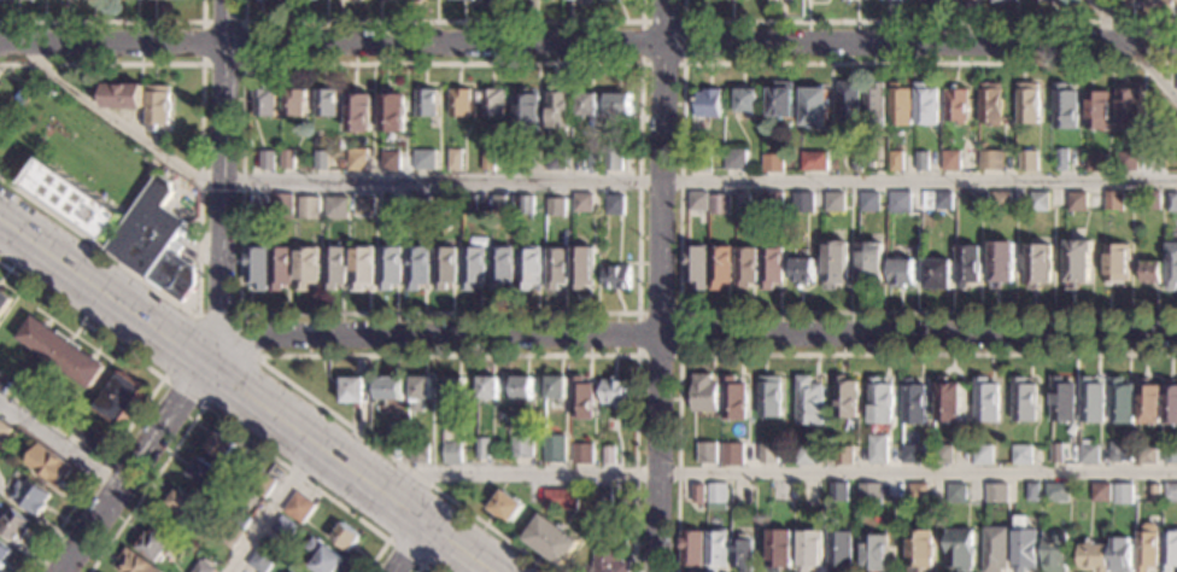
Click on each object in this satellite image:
building: (2, 0)
building: (259, 0)
building: (847, 0)
building: (924, 0)
building: (966, 0)
building: (1049, 0)
building: (418, 1)
building: (999, 1)
building: (1125, 7)
building: (1161, 7)
road: (919, 19)
road: (111, 21)
road: (441, 22)
road: (588, 42)
road: (1138, 45)
road: (683, 60)
road: (640, 62)
road: (242, 64)
building: (124, 95)
building: (781, 100)
building: (264, 101)
building: (427, 101)
building: (461, 101)
building: (748, 101)
building: (848, 101)
building: (874, 101)
building: (293, 103)
building: (327, 103)
building: (494, 103)
building: (708, 104)
building: (990, 104)
building: (1027, 104)
building: (587, 105)
building: (619, 105)
building: (900, 105)
building: (925, 105)
building: (955, 105)
building: (157, 106)
building: (814, 107)
building: (1065, 107)
building: (560, 109)
building: (1129, 110)
building: (359, 111)
building: (528, 111)
building: (1097, 111)
building: (393, 112)
building: (162, 142)
building: (357, 159)
building: (596, 159)
building: (736, 159)
building: (267, 160)
building: (288, 160)
building: (322, 160)
building: (391, 160)
building: (428, 160)
building: (457, 160)
building: (490, 160)
building: (526, 160)
building: (558, 160)
building: (989, 160)
building: (1126, 160)
building: (614, 162)
building: (814, 162)
building: (879, 162)
building: (896, 162)
building: (920, 162)
building: (950, 162)
building: (1027, 162)
building: (1061, 162)
building: (1095, 162)
building: (702, 163)
building: (773, 163)
building: (1079, 163)
building: (856, 164)
road: (218, 176)
road: (578, 181)
road: (680, 188)
building: (74, 199)
building: (1112, 200)
building: (1149, 200)
building: (699, 202)
building: (744, 202)
building: (835, 202)
building: (941, 202)
building: (1000, 202)
building: (1037, 202)
building: (263, 203)
building: (585, 203)
building: (768, 203)
building: (800, 203)
building: (869, 203)
building: (898, 203)
building: (977, 203)
building: (1076, 203)
building: (1126, 203)
building: (1171, 203)
building: (445, 204)
building: (473, 204)
building: (364, 205)
building: (420, 205)
building: (500, 205)
building: (528, 205)
building: (616, 205)
building: (720, 205)
building: (282, 206)
building: (309, 208)
building: (558, 208)
building: (338, 209)
building: (394, 209)
road: (199, 210)
building: (154, 241)
building: (836, 263)
building: (1077, 263)
building: (1115, 263)
building: (869, 264)
building: (1000, 264)
building: (966, 265)
building: (1037, 265)
building: (257, 267)
building: (282, 267)
building: (336, 267)
building: (392, 267)
building: (447, 267)
building: (475, 267)
building: (503, 267)
building: (584, 267)
building: (696, 267)
building: (721, 267)
building: (772, 267)
building: (1170, 267)
building: (309, 268)
building: (364, 268)
building: (420, 268)
building: (531, 268)
building: (558, 268)
building: (746, 268)
building: (803, 272)
building: (1150, 272)
building: (900, 273)
building: (936, 274)
building: (617, 278)
road: (663, 286)
building: (5, 302)
road: (221, 315)
road: (690, 335)
building: (62, 351)
road: (819, 354)
road: (375, 355)
road: (680, 355)
road: (256, 387)
building: (556, 387)
building: (456, 389)
building: (490, 389)
building: (522, 389)
building: (391, 390)
building: (355, 391)
road: (153, 392)
building: (422, 392)
building: (614, 392)
building: (704, 393)
building: (771, 397)
building: (121, 398)
building: (582, 398)
building: (733, 398)
building: (845, 398)
building: (985, 399)
building: (948, 401)
building: (1023, 401)
building: (1061, 401)
building: (1090, 401)
building: (809, 402)
building: (880, 402)
building: (913, 402)
building: (1119, 402)
building: (1170, 402)
building: (1147, 403)
road: (229, 424)
building: (4, 431)
building: (87, 434)
building: (399, 434)
road: (60, 439)
building: (219, 446)
building: (521, 448)
building: (452, 449)
building: (485, 449)
building: (556, 449)
building: (878, 450)
building: (422, 451)
building: (708, 451)
building: (1059, 453)
building: (1119, 453)
building: (582, 454)
building: (732, 454)
building: (768, 454)
building: (910, 454)
building: (1169, 454)
building: (609, 455)
building: (806, 455)
building: (844, 455)
building: (943, 455)
building: (983, 455)
building: (1021, 455)
building: (1088, 455)
building: (1146, 456)
road: (134, 462)
building: (47, 465)
building: (205, 473)
road: (772, 473)
building: (263, 484)
building: (838, 492)
building: (918, 492)
building: (996, 492)
building: (1031, 492)
building: (1056, 492)
building: (1170, 492)
building: (698, 494)
building: (956, 494)
building: (1100, 494)
building: (1153, 494)
building: (869, 495)
building: (1122, 495)
building: (31, 496)
building: (718, 497)
building: (603, 498)
building: (561, 500)
building: (181, 503)
road: (275, 504)
building: (299, 507)
building: (506, 507)
building: (240, 519)
building: (14, 526)
building: (762, 526)
building: (285, 527)
building: (228, 535)
building: (346, 537)
building: (551, 541)
road: (406, 542)
building: (153, 544)
building: (1025, 547)
building: (1147, 547)
building: (960, 549)
building: (996, 549)
building: (693, 550)
building: (718, 550)
building: (780, 550)
building: (810, 550)
building: (919, 550)
building: (1169, 550)
building: (841, 551)
building: (1055, 551)
road: (405, 553)
building: (4, 554)
building: (608, 554)
building: (743, 554)
building: (876, 554)
building: (1122, 555)
building: (1094, 556)
building: (324, 558)
building: (262, 560)
building: (135, 562)
road: (423, 566)
building: (203, 567)
building: (297, 571)

